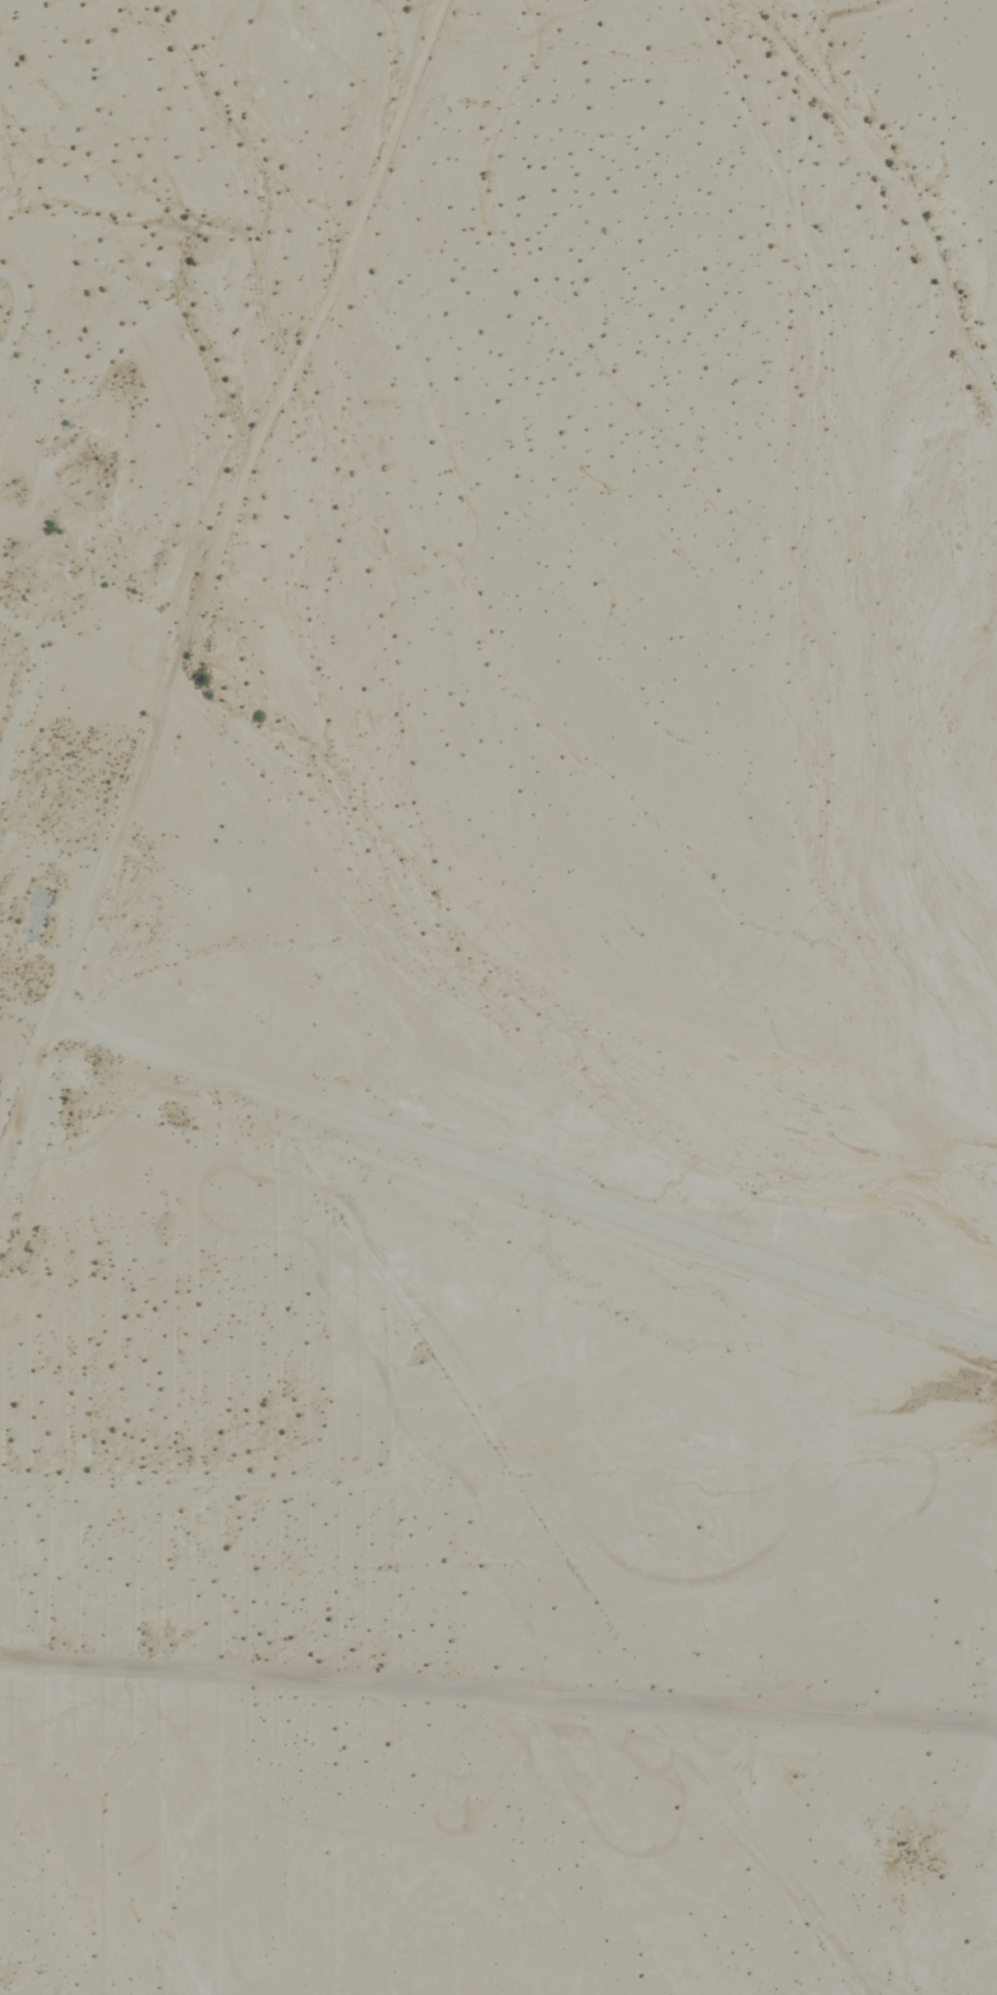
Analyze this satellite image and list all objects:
road: (498, 1701)

